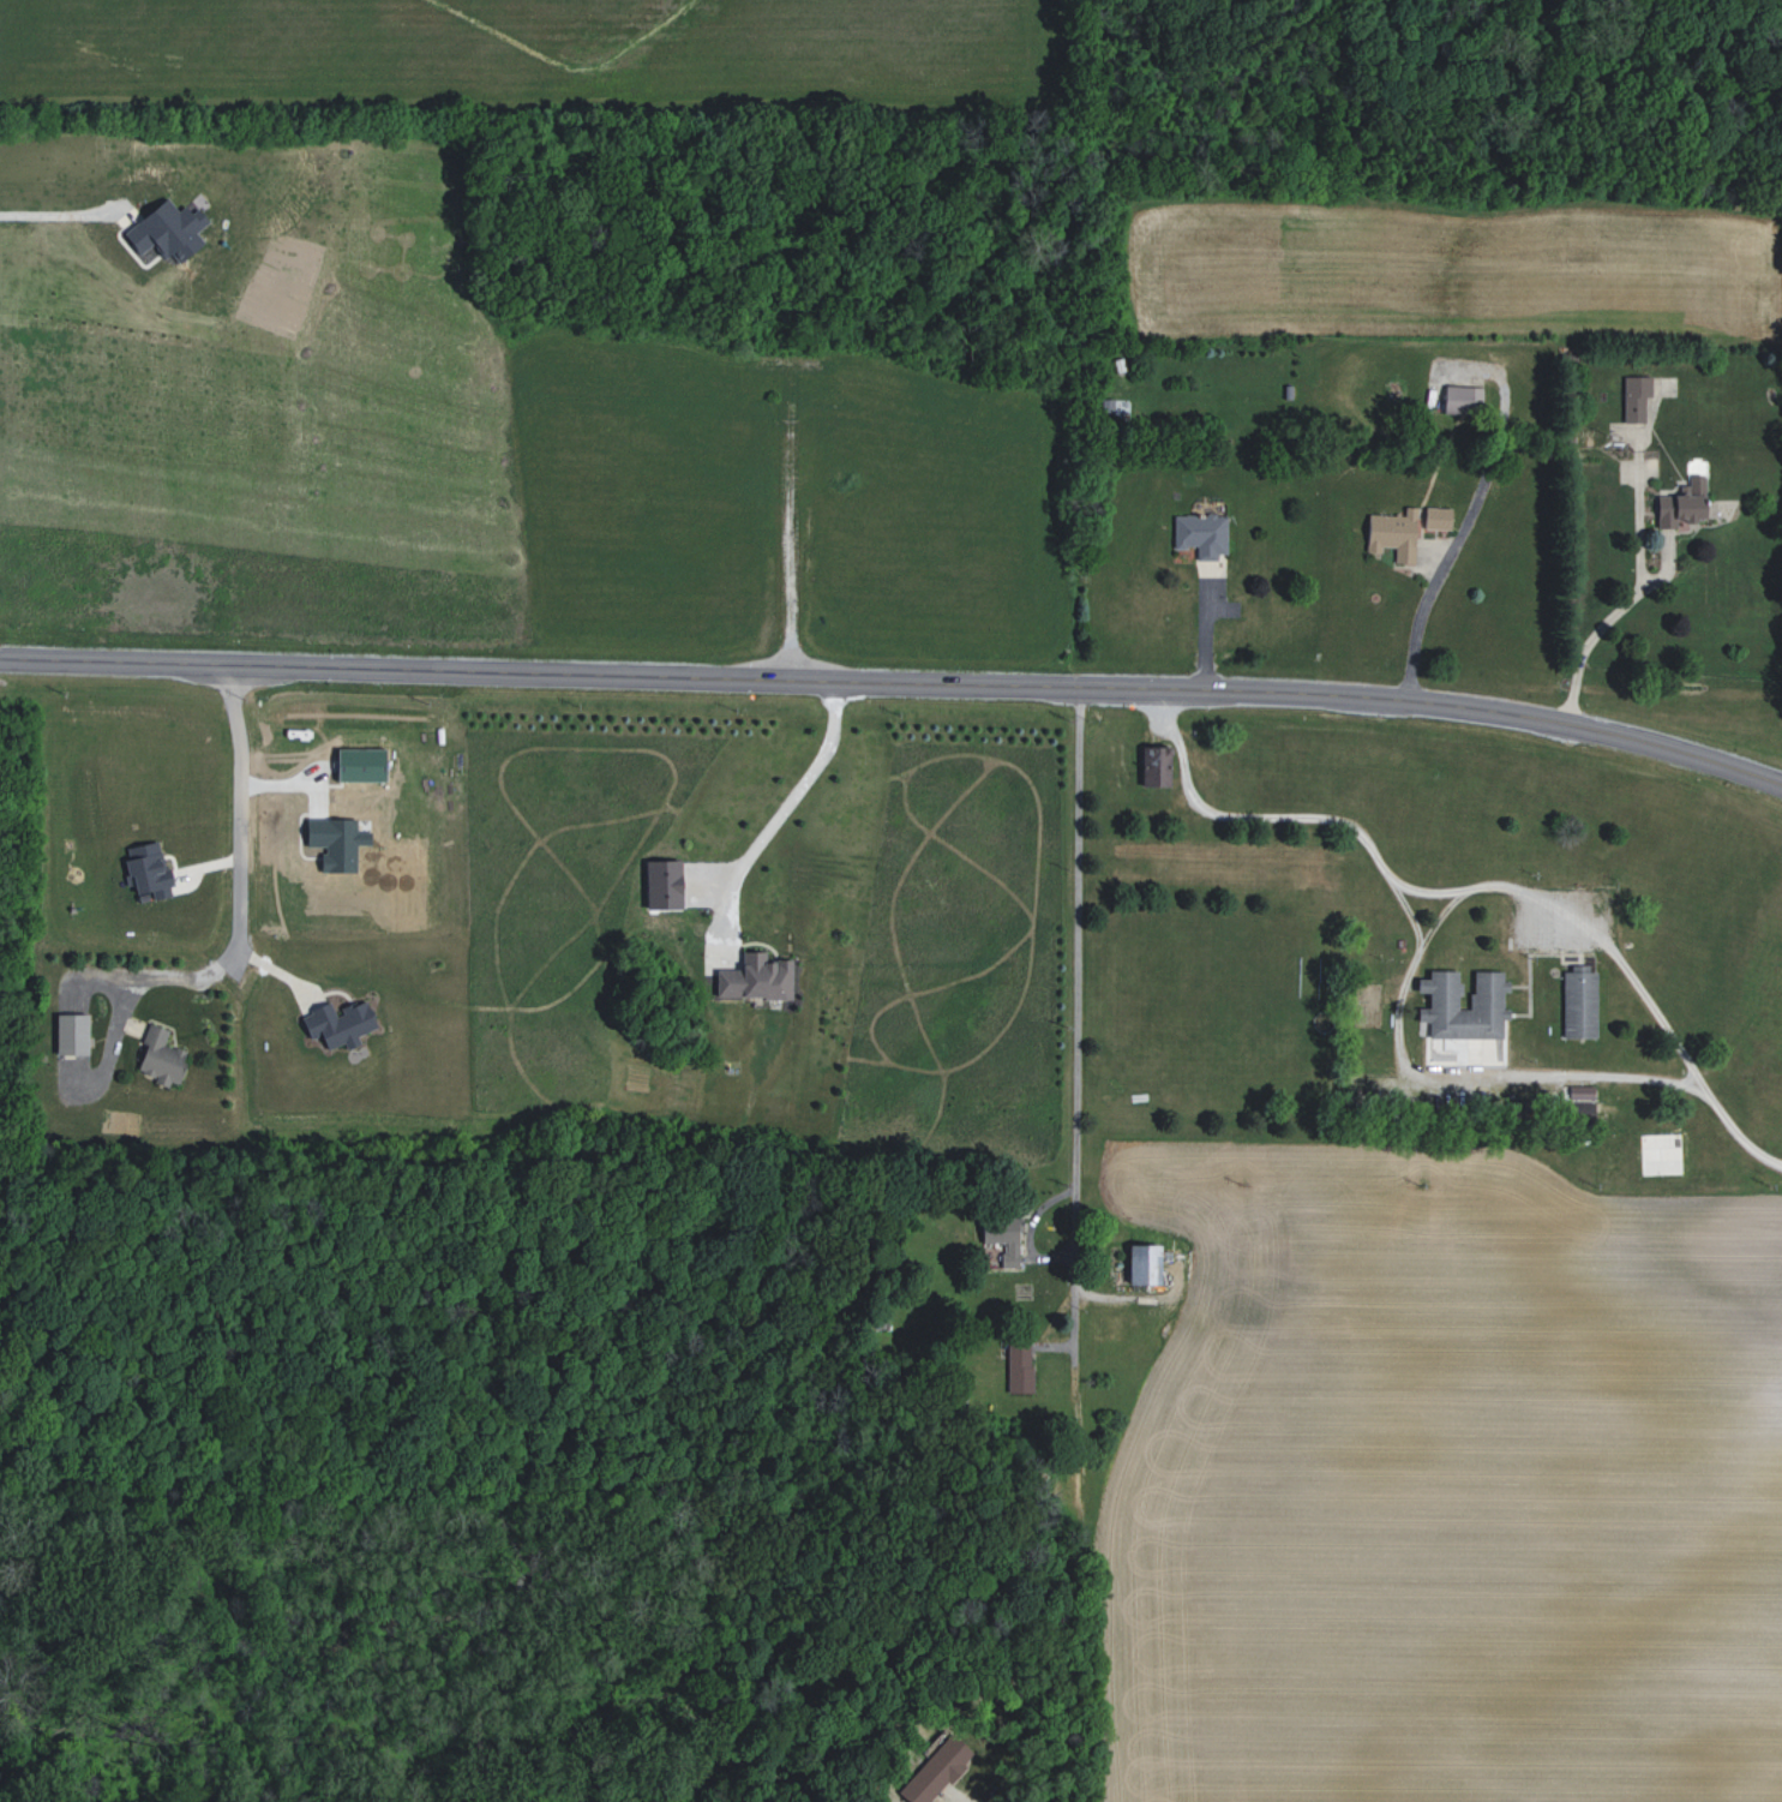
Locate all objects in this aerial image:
road: (52, 210)
building: (168, 231)
building: (1636, 397)
building: (1463, 400)
building: (1682, 504)
building: (1438, 517)
building: (1393, 534)
building: (1201, 535)
road: (1450, 565)
road: (1628, 603)
road: (895, 683)
building: (361, 765)
building: (1156, 766)
road: (240, 810)
road: (781, 813)
building: (337, 843)
building: (149, 870)
building: (662, 885)
road: (1476, 888)
parking lot: (1556, 916)
road: (1438, 918)
building: (756, 977)
road: (131, 994)
building: (1486, 1001)
building: (1578, 1002)
road: (1075, 1017)
building: (340, 1023)
building: (73, 1034)
building: (161, 1056)
road: (1686, 1080)
road: (1460, 1082)
building: (1580, 1091)
building: (1578, 1110)
building: (1003, 1237)
building: (1145, 1264)
building: (1020, 1367)
crop: (1426, 1473)
building: (937, 1771)
road: (998, 1797)

